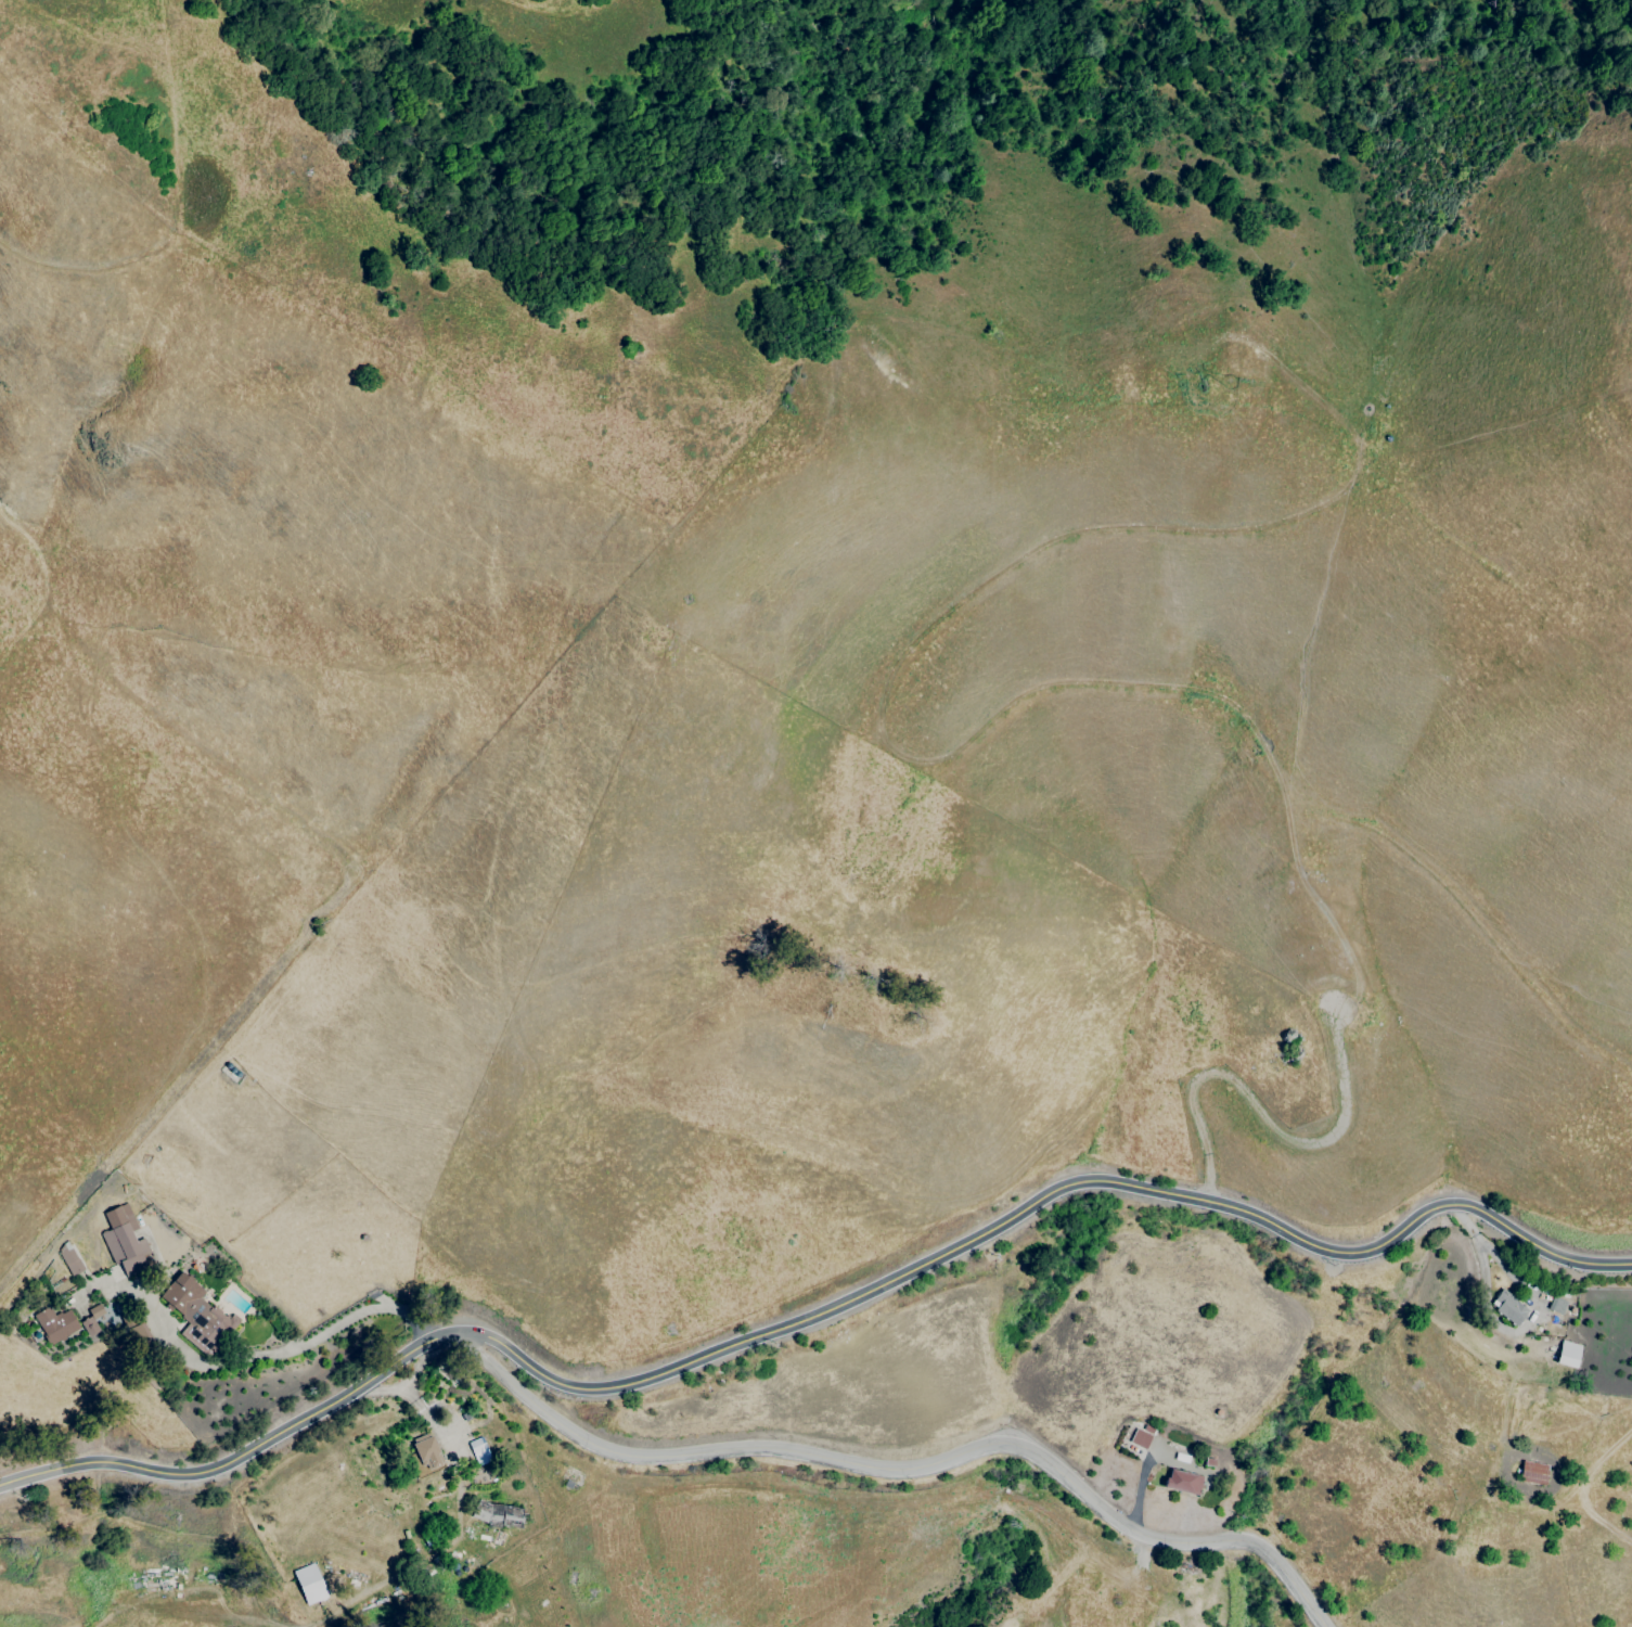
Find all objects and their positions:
building: (124, 1240)
road: (1488, 1251)
building: (68, 1258)
building: (1507, 1307)
building: (196, 1314)
road: (815, 1315)
building: (91, 1319)
building: (106, 1321)
building: (54, 1324)
road: (286, 1350)
building: (1567, 1354)
building: (1140, 1436)
building: (426, 1450)
building: (479, 1450)
road: (908, 1468)
building: (1532, 1472)
building: (1182, 1481)
building: (497, 1514)
building: (309, 1584)

